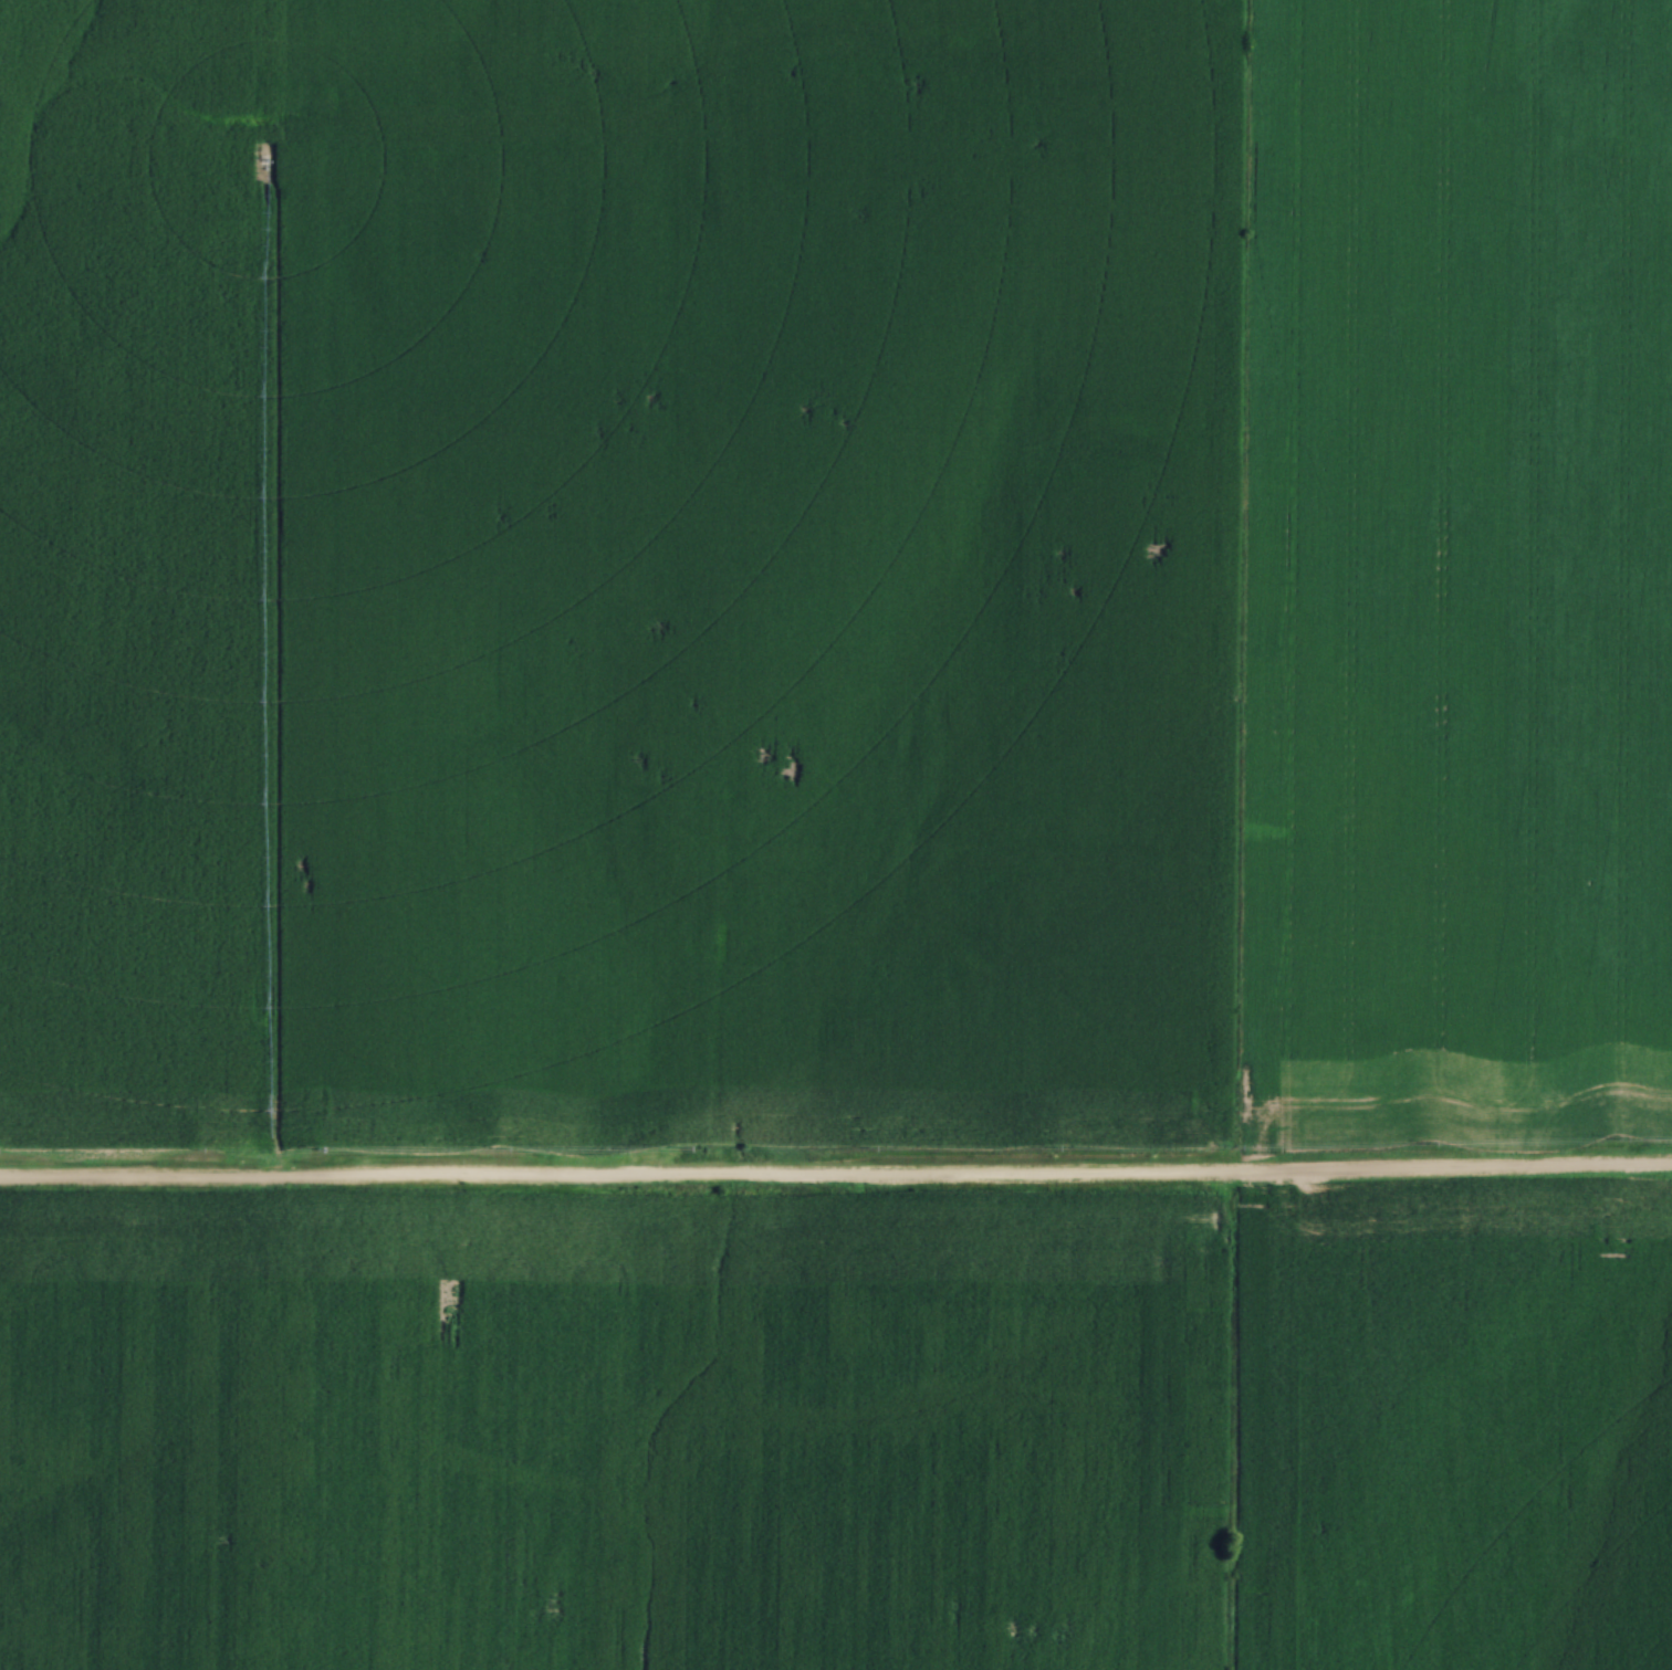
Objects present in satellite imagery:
road: (836, 1180)

